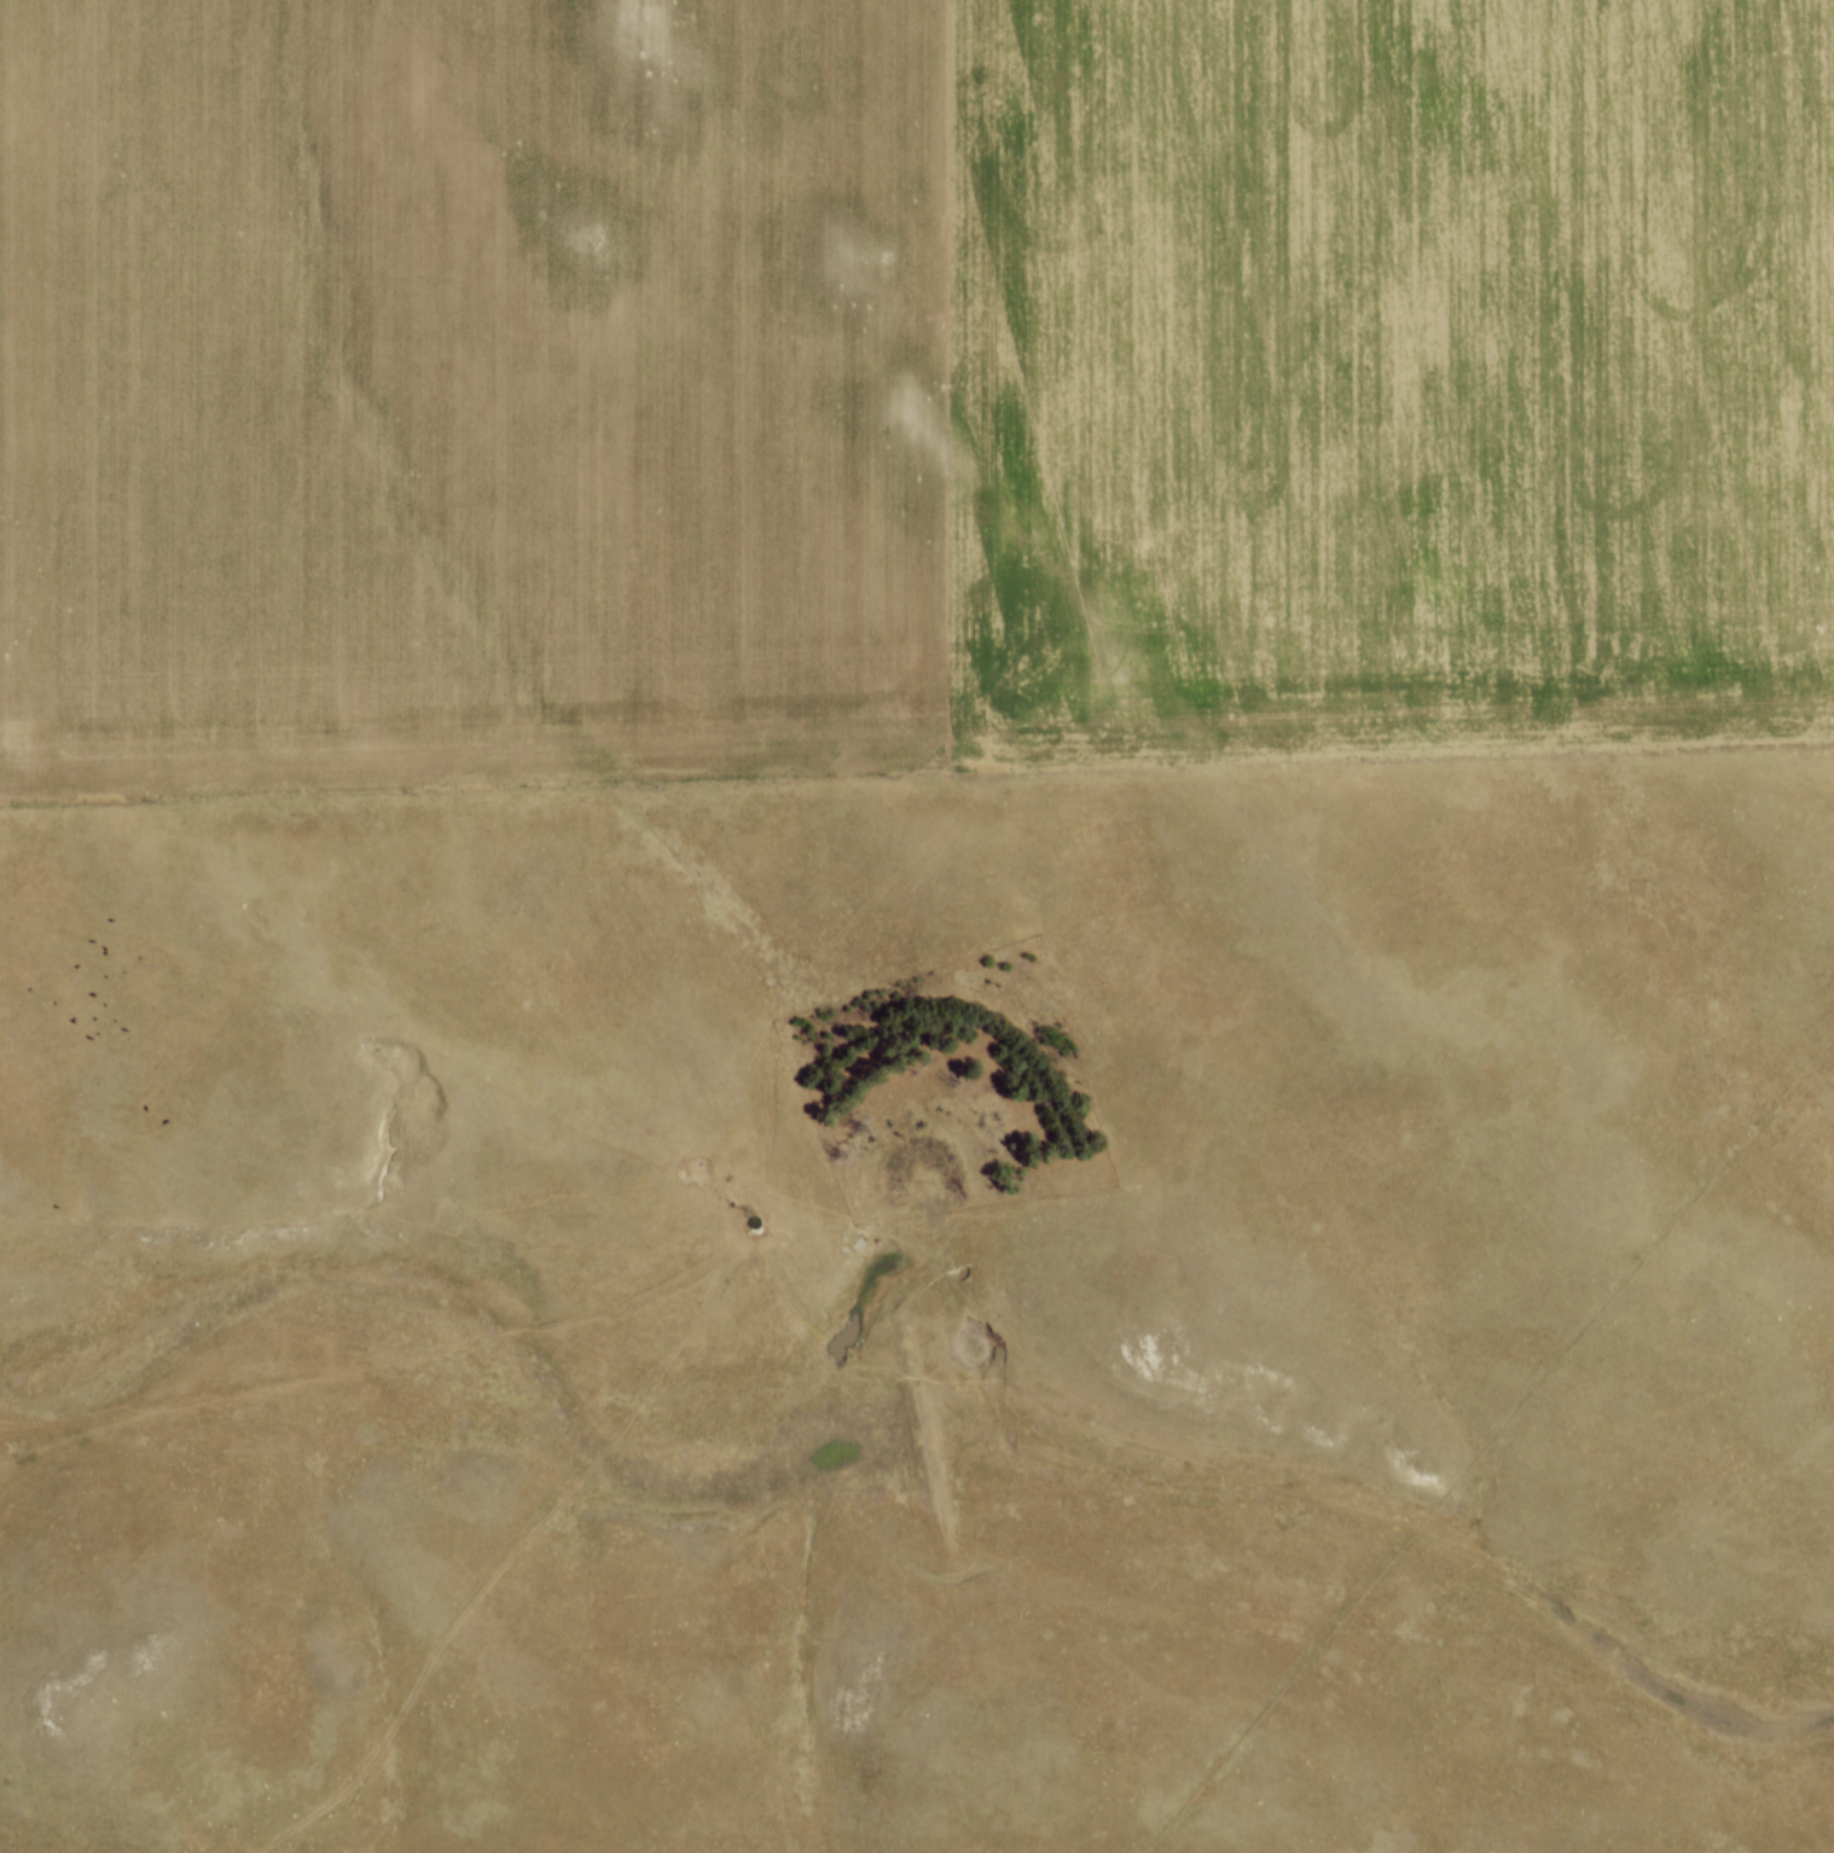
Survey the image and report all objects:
crop: (907, 376)

